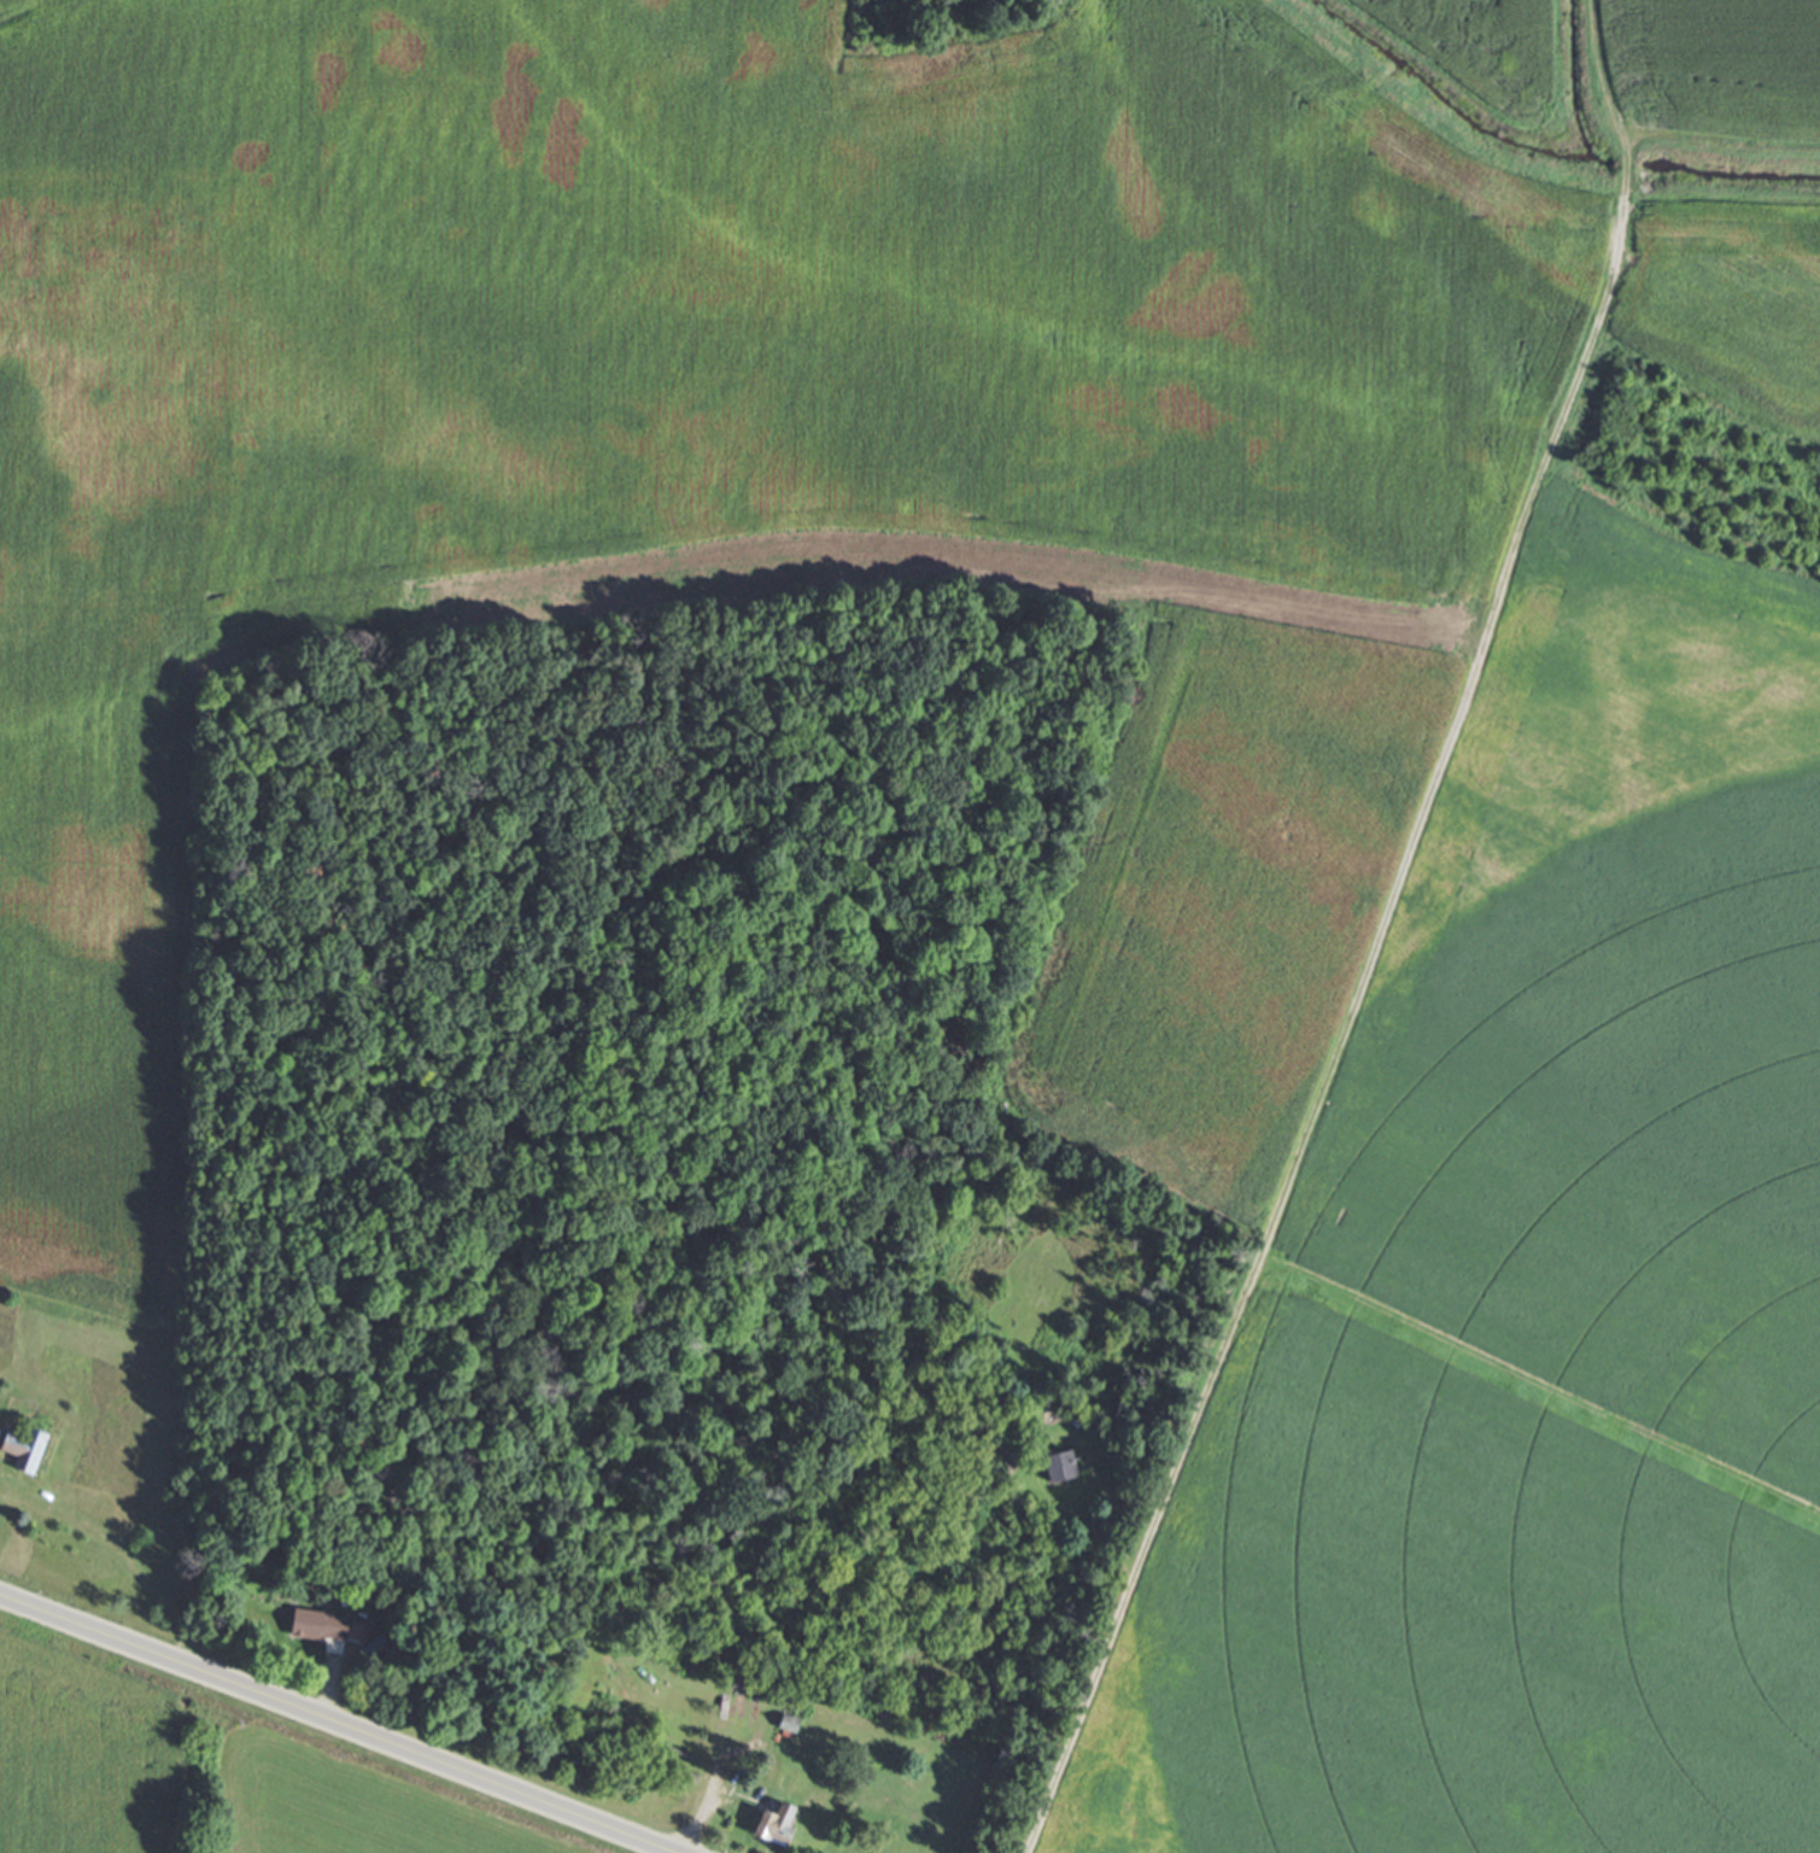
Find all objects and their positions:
building: (23, 1450)
building: (1060, 1467)
building: (785, 1725)
road: (332, 1726)
building: (776, 1823)

